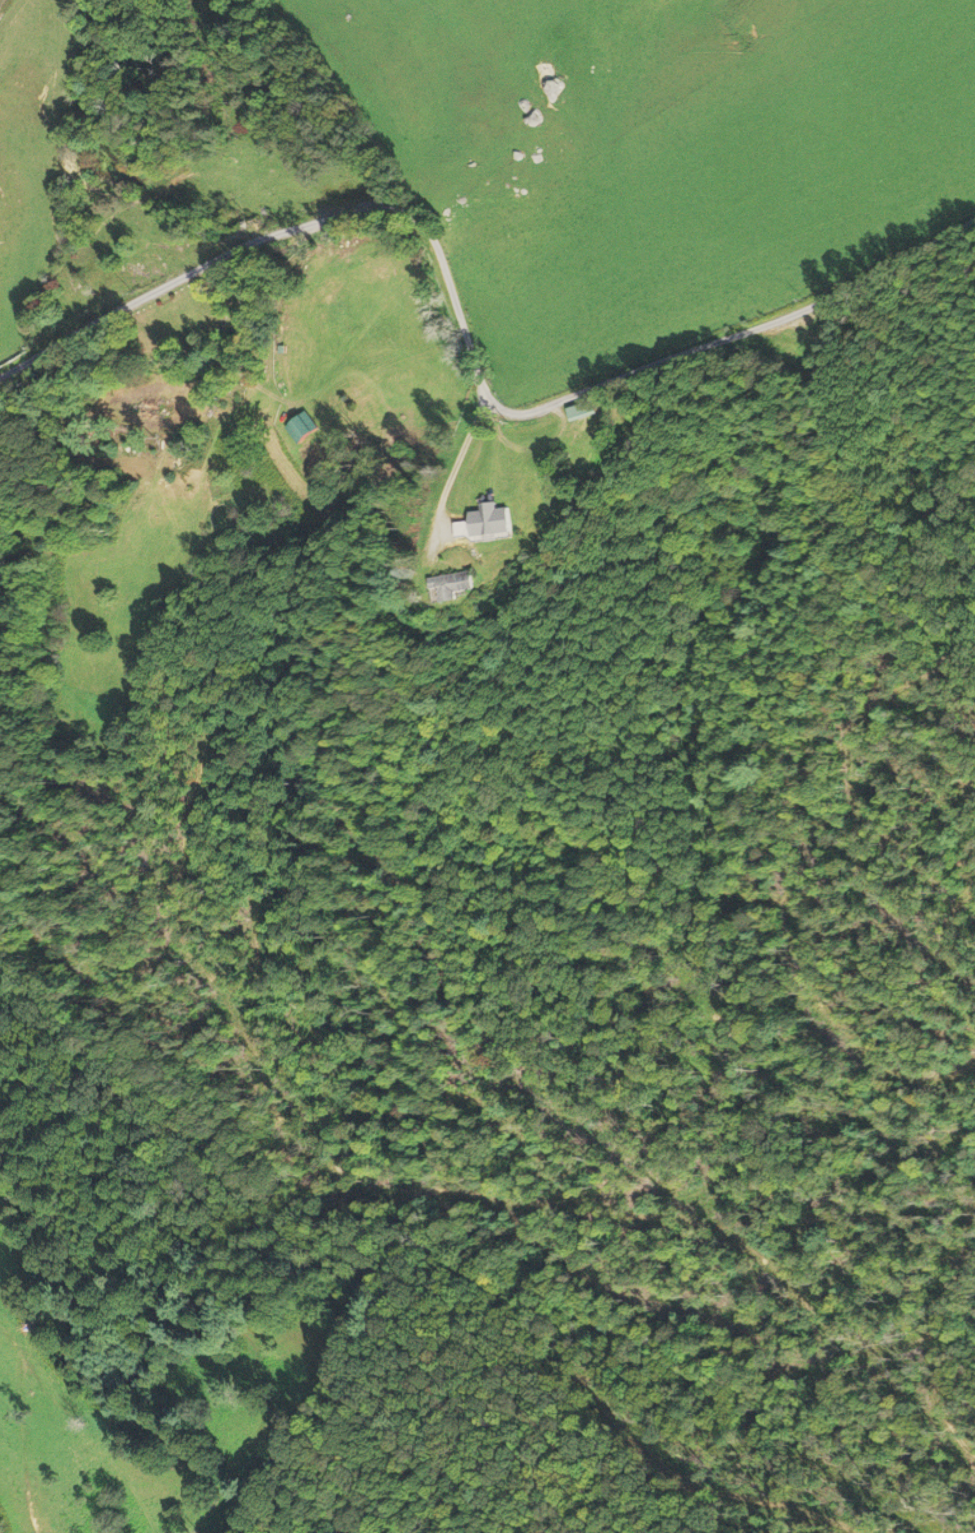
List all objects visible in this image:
road: (467, 341)
building: (583, 410)
building: (304, 427)
road: (563, 440)
building: (452, 585)

